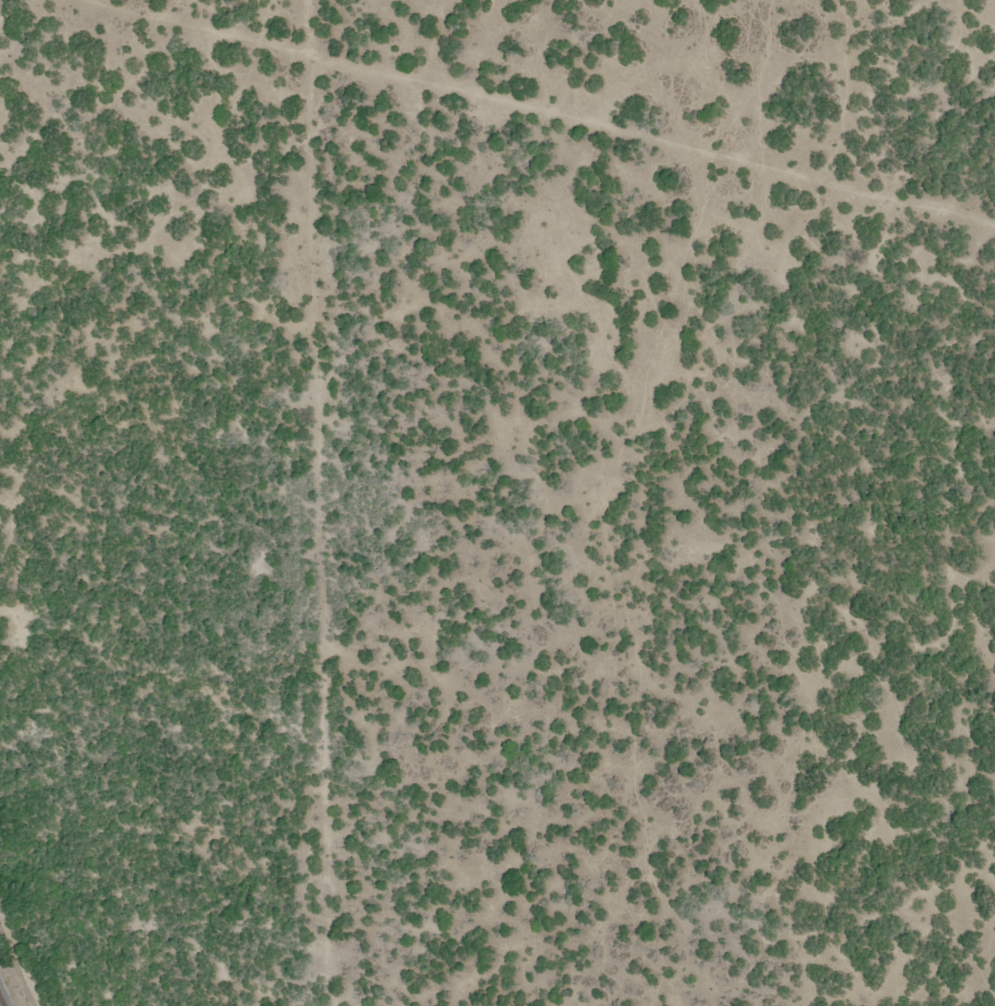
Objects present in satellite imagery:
railway: (2, 1002)

